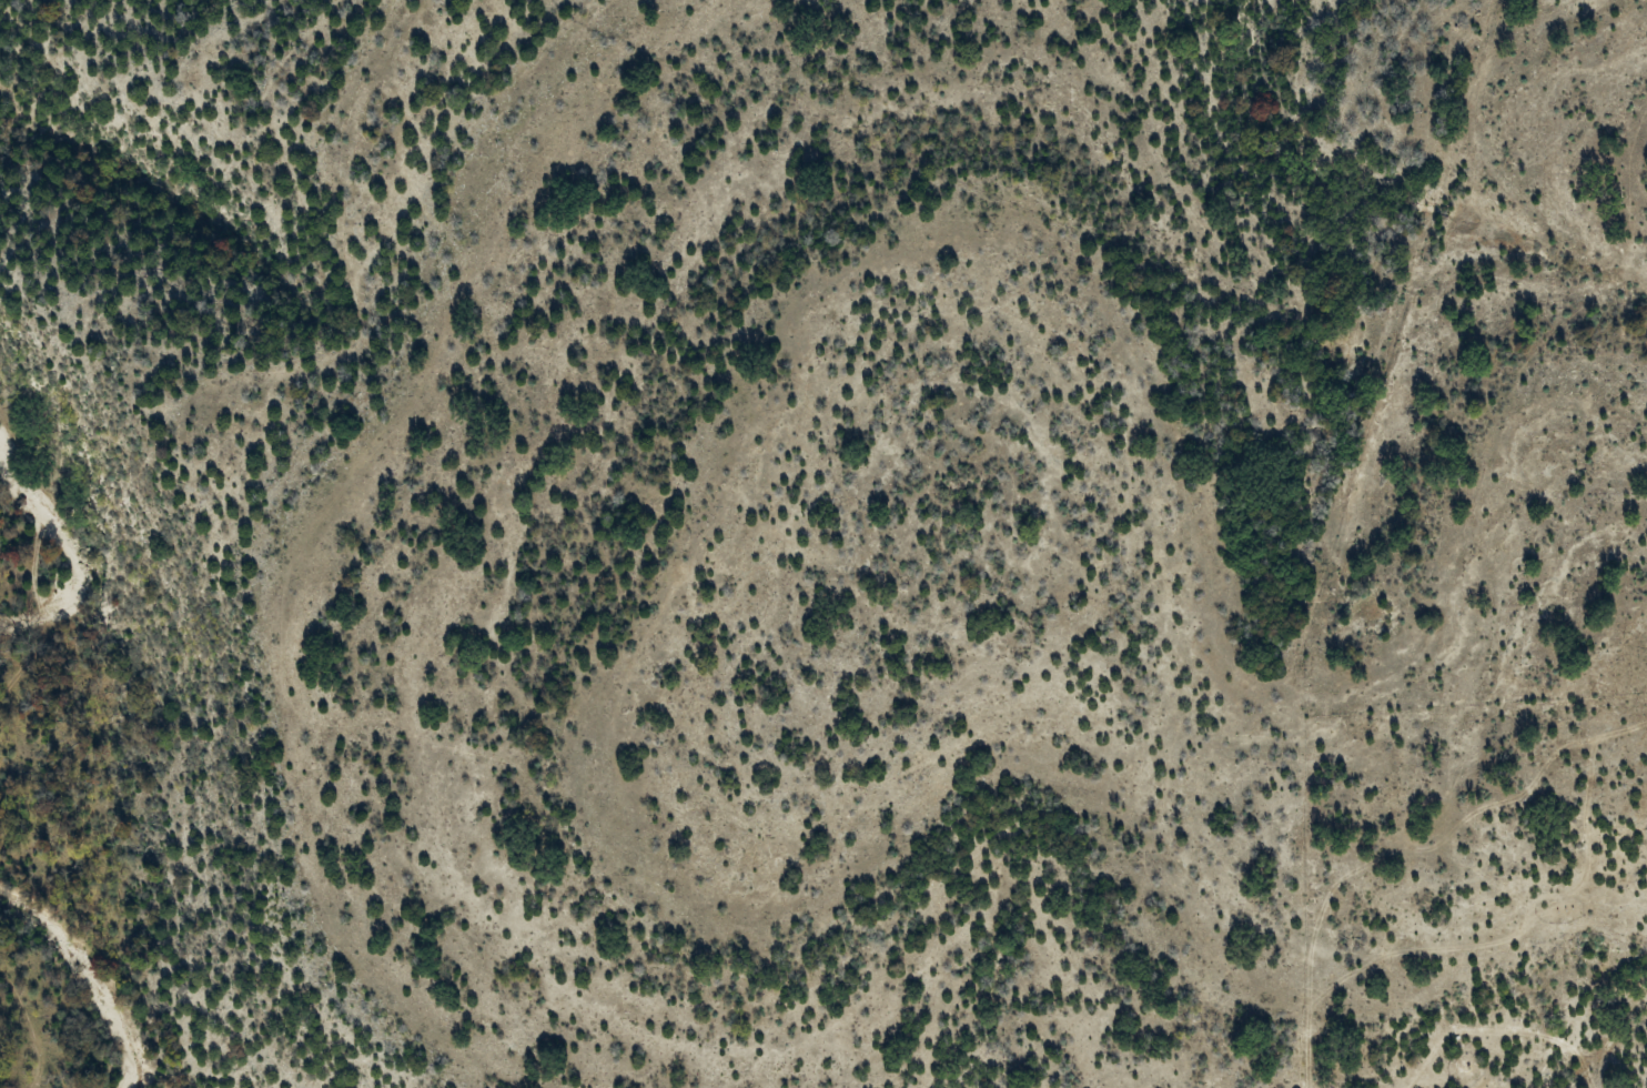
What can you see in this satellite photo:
road: (79, 547)
road: (23, 1009)

